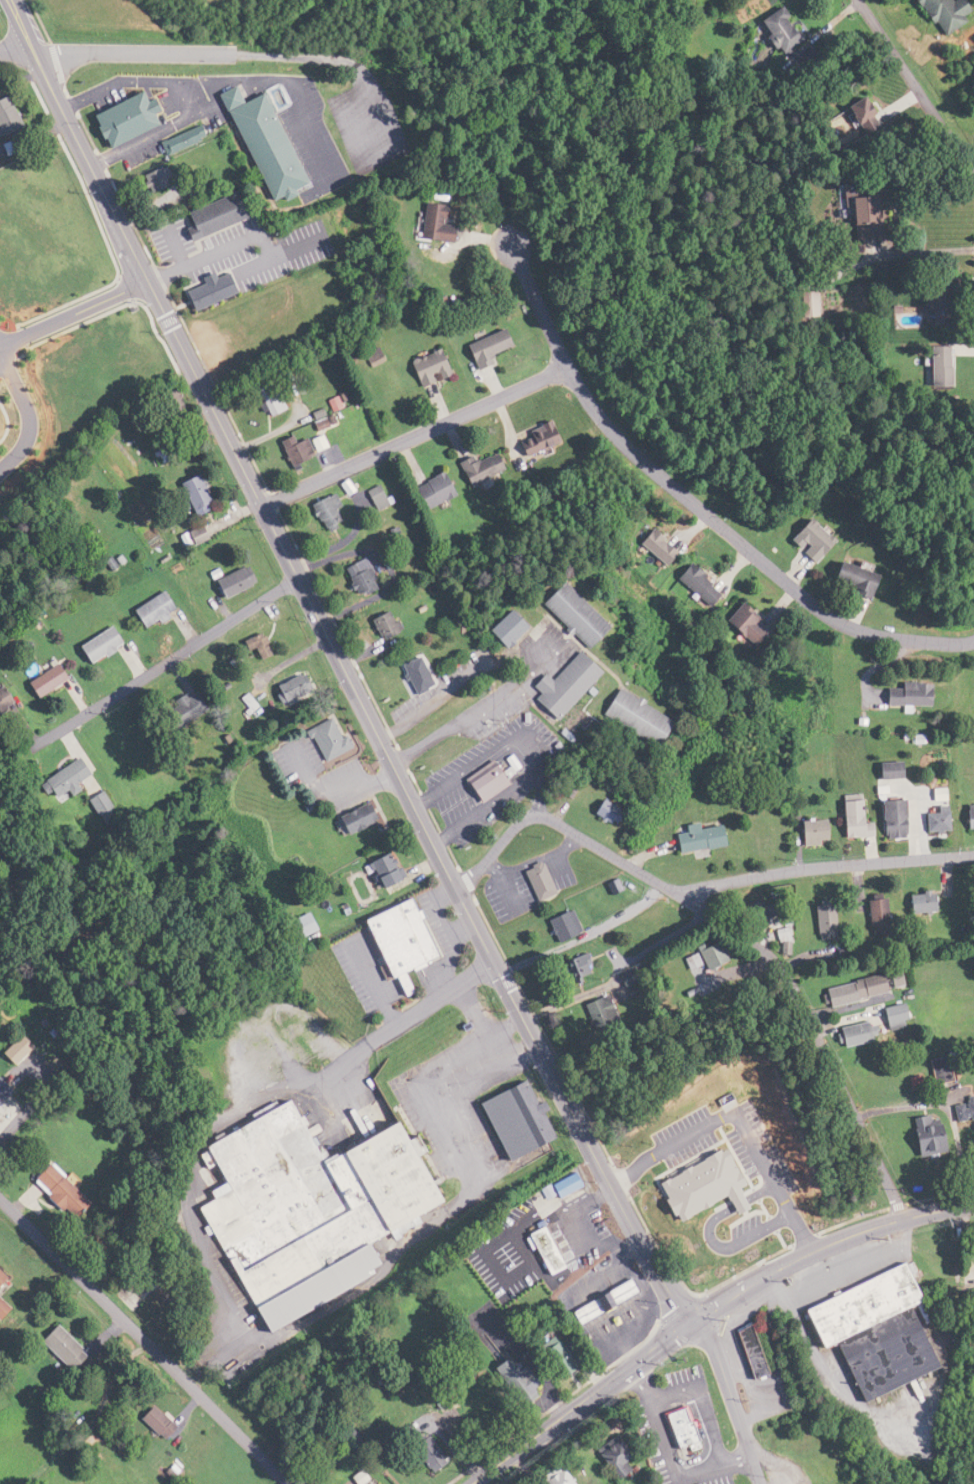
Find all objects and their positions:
building: (938, 13)
building: (774, 29)
road: (14, 45)
road: (191, 58)
road: (913, 87)
building: (853, 115)
building: (5, 118)
building: (117, 119)
building: (258, 144)
building: (151, 179)
building: (206, 215)
building: (855, 216)
building: (434, 224)
road: (74, 312)
building: (909, 315)
building: (483, 347)
building: (933, 364)
building: (424, 367)
building: (263, 396)
road: (28, 413)
road: (415, 437)
building: (534, 438)
building: (288, 449)
building: (478, 467)
building: (427, 491)
building: (188, 494)
road: (693, 502)
building: (319, 512)
building: (189, 535)
building: (804, 541)
building: (652, 547)
building: (352, 577)
building: (846, 578)
building: (224, 582)
building: (694, 585)
building: (144, 610)
building: (567, 614)
building: (378, 625)
building: (741, 625)
building: (502, 629)
building: (92, 645)
building: (249, 645)
road: (343, 664)
road: (156, 669)
building: (410, 675)
building: (37, 681)
building: (559, 685)
building: (284, 689)
building: (902, 694)
building: (0, 699)
building: (239, 704)
road: (477, 708)
building: (174, 710)
building: (633, 717)
building: (320, 739)
road: (529, 752)
building: (58, 780)
building: (479, 783)
road: (539, 794)
building: (93, 803)
building: (602, 811)
building: (967, 816)
building: (347, 818)
building: (849, 818)
building: (888, 819)
building: (931, 821)
building: (808, 832)
building: (693, 837)
road: (828, 866)
building: (376, 871)
building: (534, 881)
building: (916, 902)
building: (871, 915)
building: (819, 921)
building: (558, 925)
building: (291, 927)
road: (734, 931)
building: (777, 934)
building: (393, 941)
building: (705, 954)
building: (575, 966)
building: (846, 990)
building: (595, 1014)
road: (406, 1017)
building: (884, 1017)
road: (247, 1028)
building: (846, 1035)
building: (8, 1049)
road: (281, 1049)
building: (932, 1070)
building: (1, 1092)
building: (960, 1110)
road: (25, 1112)
building: (506, 1121)
road: (741, 1122)
building: (920, 1136)
building: (558, 1185)
building: (54, 1192)
building: (300, 1209)
building: (973, 1230)
building: (536, 1252)
building: (693, 1264)
building: (0, 1278)
building: (597, 1302)
road: (706, 1311)
building: (867, 1332)
road: (144, 1341)
building: (51, 1348)
building: (752, 1352)
building: (550, 1358)
building: (508, 1381)
road: (731, 1399)
building: (468, 1418)
building: (150, 1423)
building: (678, 1429)
building: (421, 1454)
building: (609, 1456)
building: (549, 1477)

